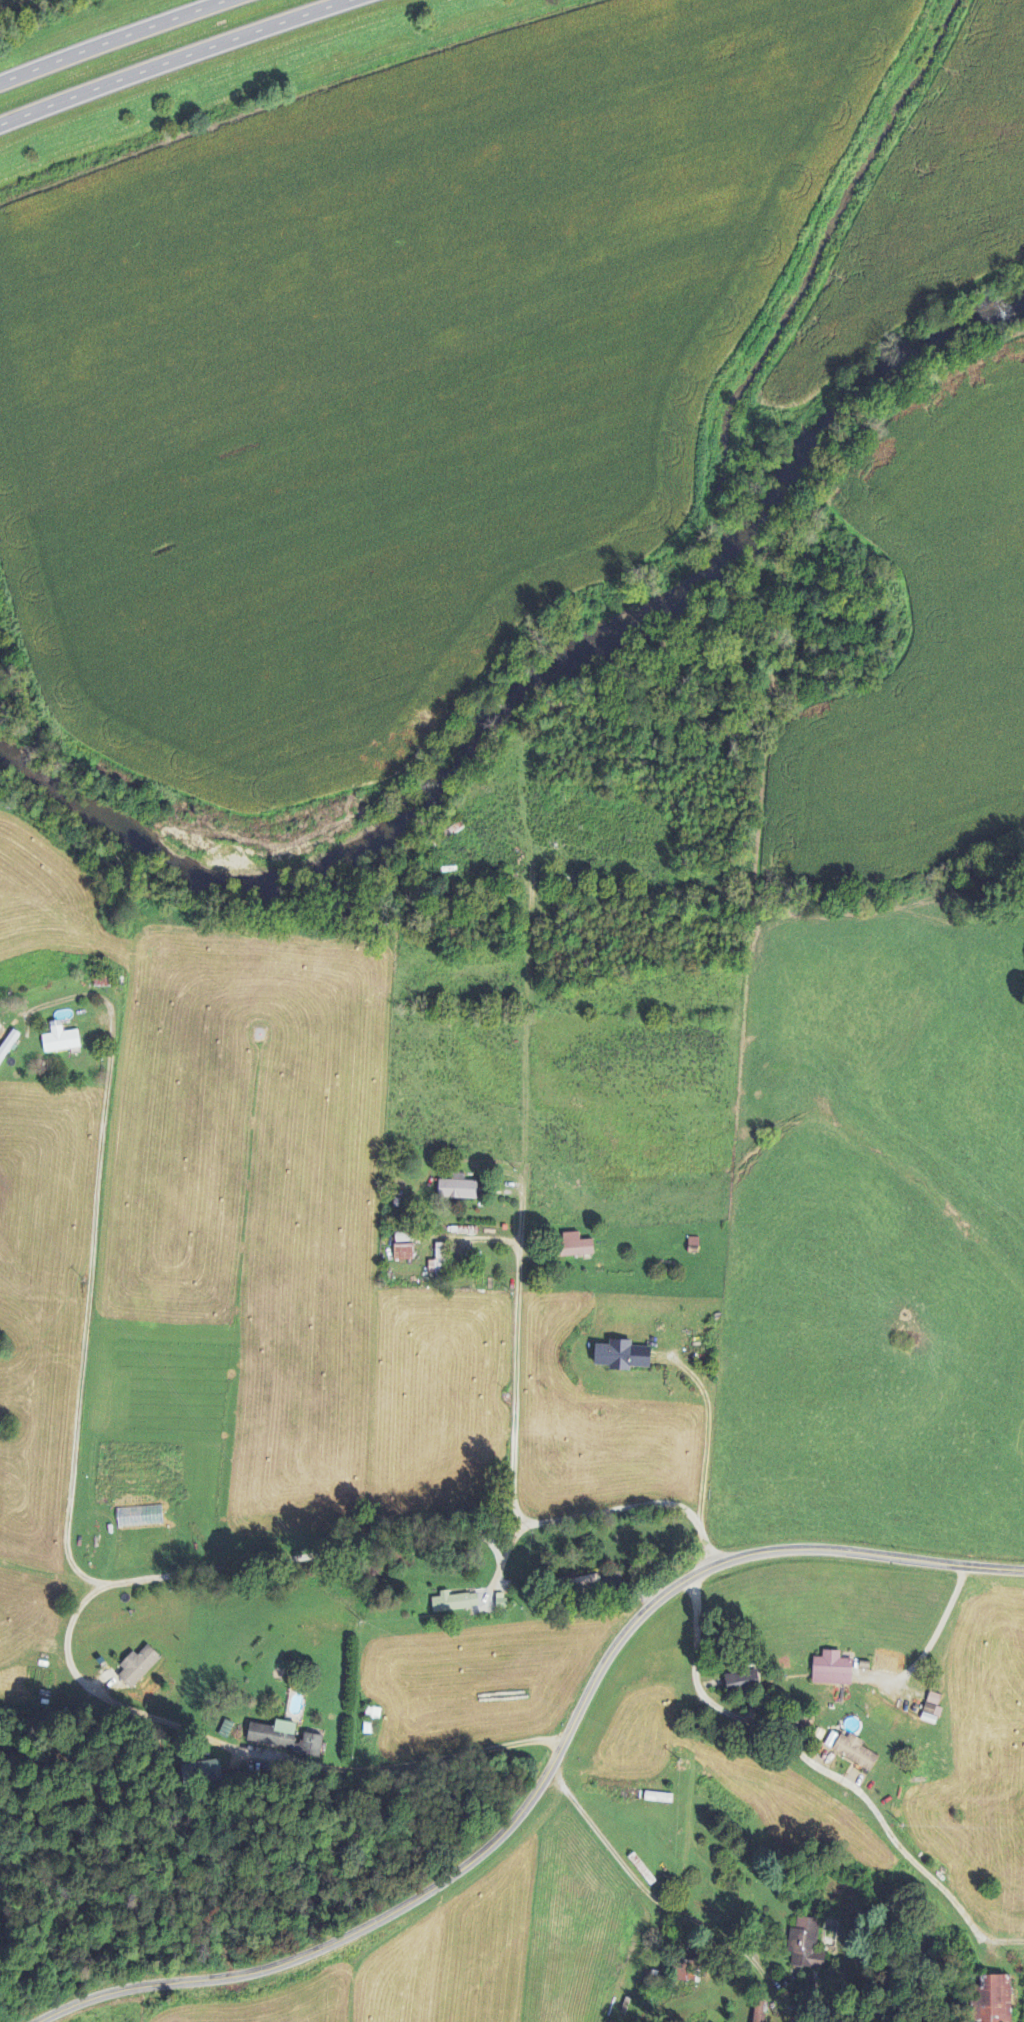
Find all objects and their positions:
road: (115, 41)
road: (169, 60)
river: (932, 364)
crop: (394, 374)
river: (816, 471)
river: (668, 592)
river: (22, 753)
river: (478, 757)
river: (395, 844)
river: (204, 867)
building: (59, 1040)
building: (8, 1045)
building: (457, 1189)
building: (575, 1247)
building: (403, 1248)
road: (522, 1282)
building: (622, 1358)
building: (139, 1517)
building: (500, 1601)
building: (454, 1603)
building: (137, 1667)
building: (831, 1670)
building: (742, 1681)
building: (932, 1709)
building: (370, 1719)
building: (285, 1739)
building: (855, 1752)
road: (813, 1760)
road: (547, 1774)
building: (803, 1940)
building: (684, 1972)
building: (992, 2000)

